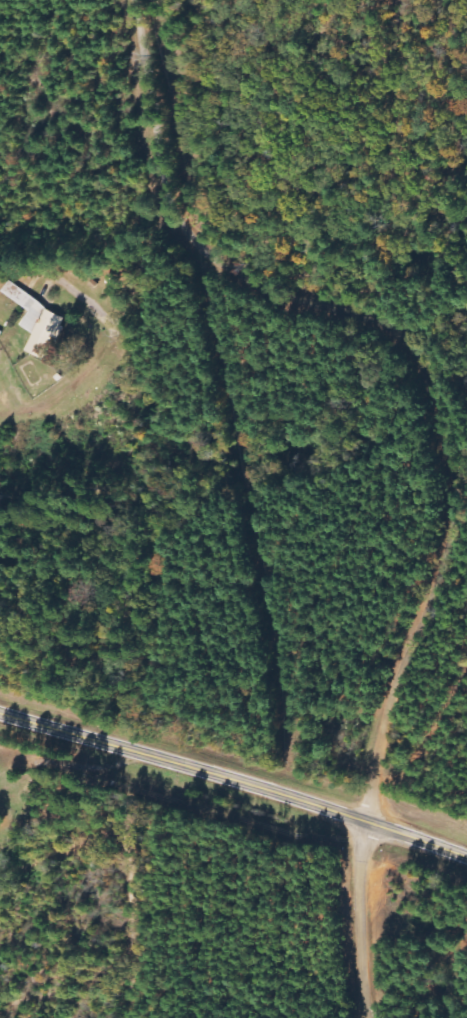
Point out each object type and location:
road: (151, 269)
building: (38, 322)
road: (410, 352)
road: (234, 786)
road: (366, 922)

